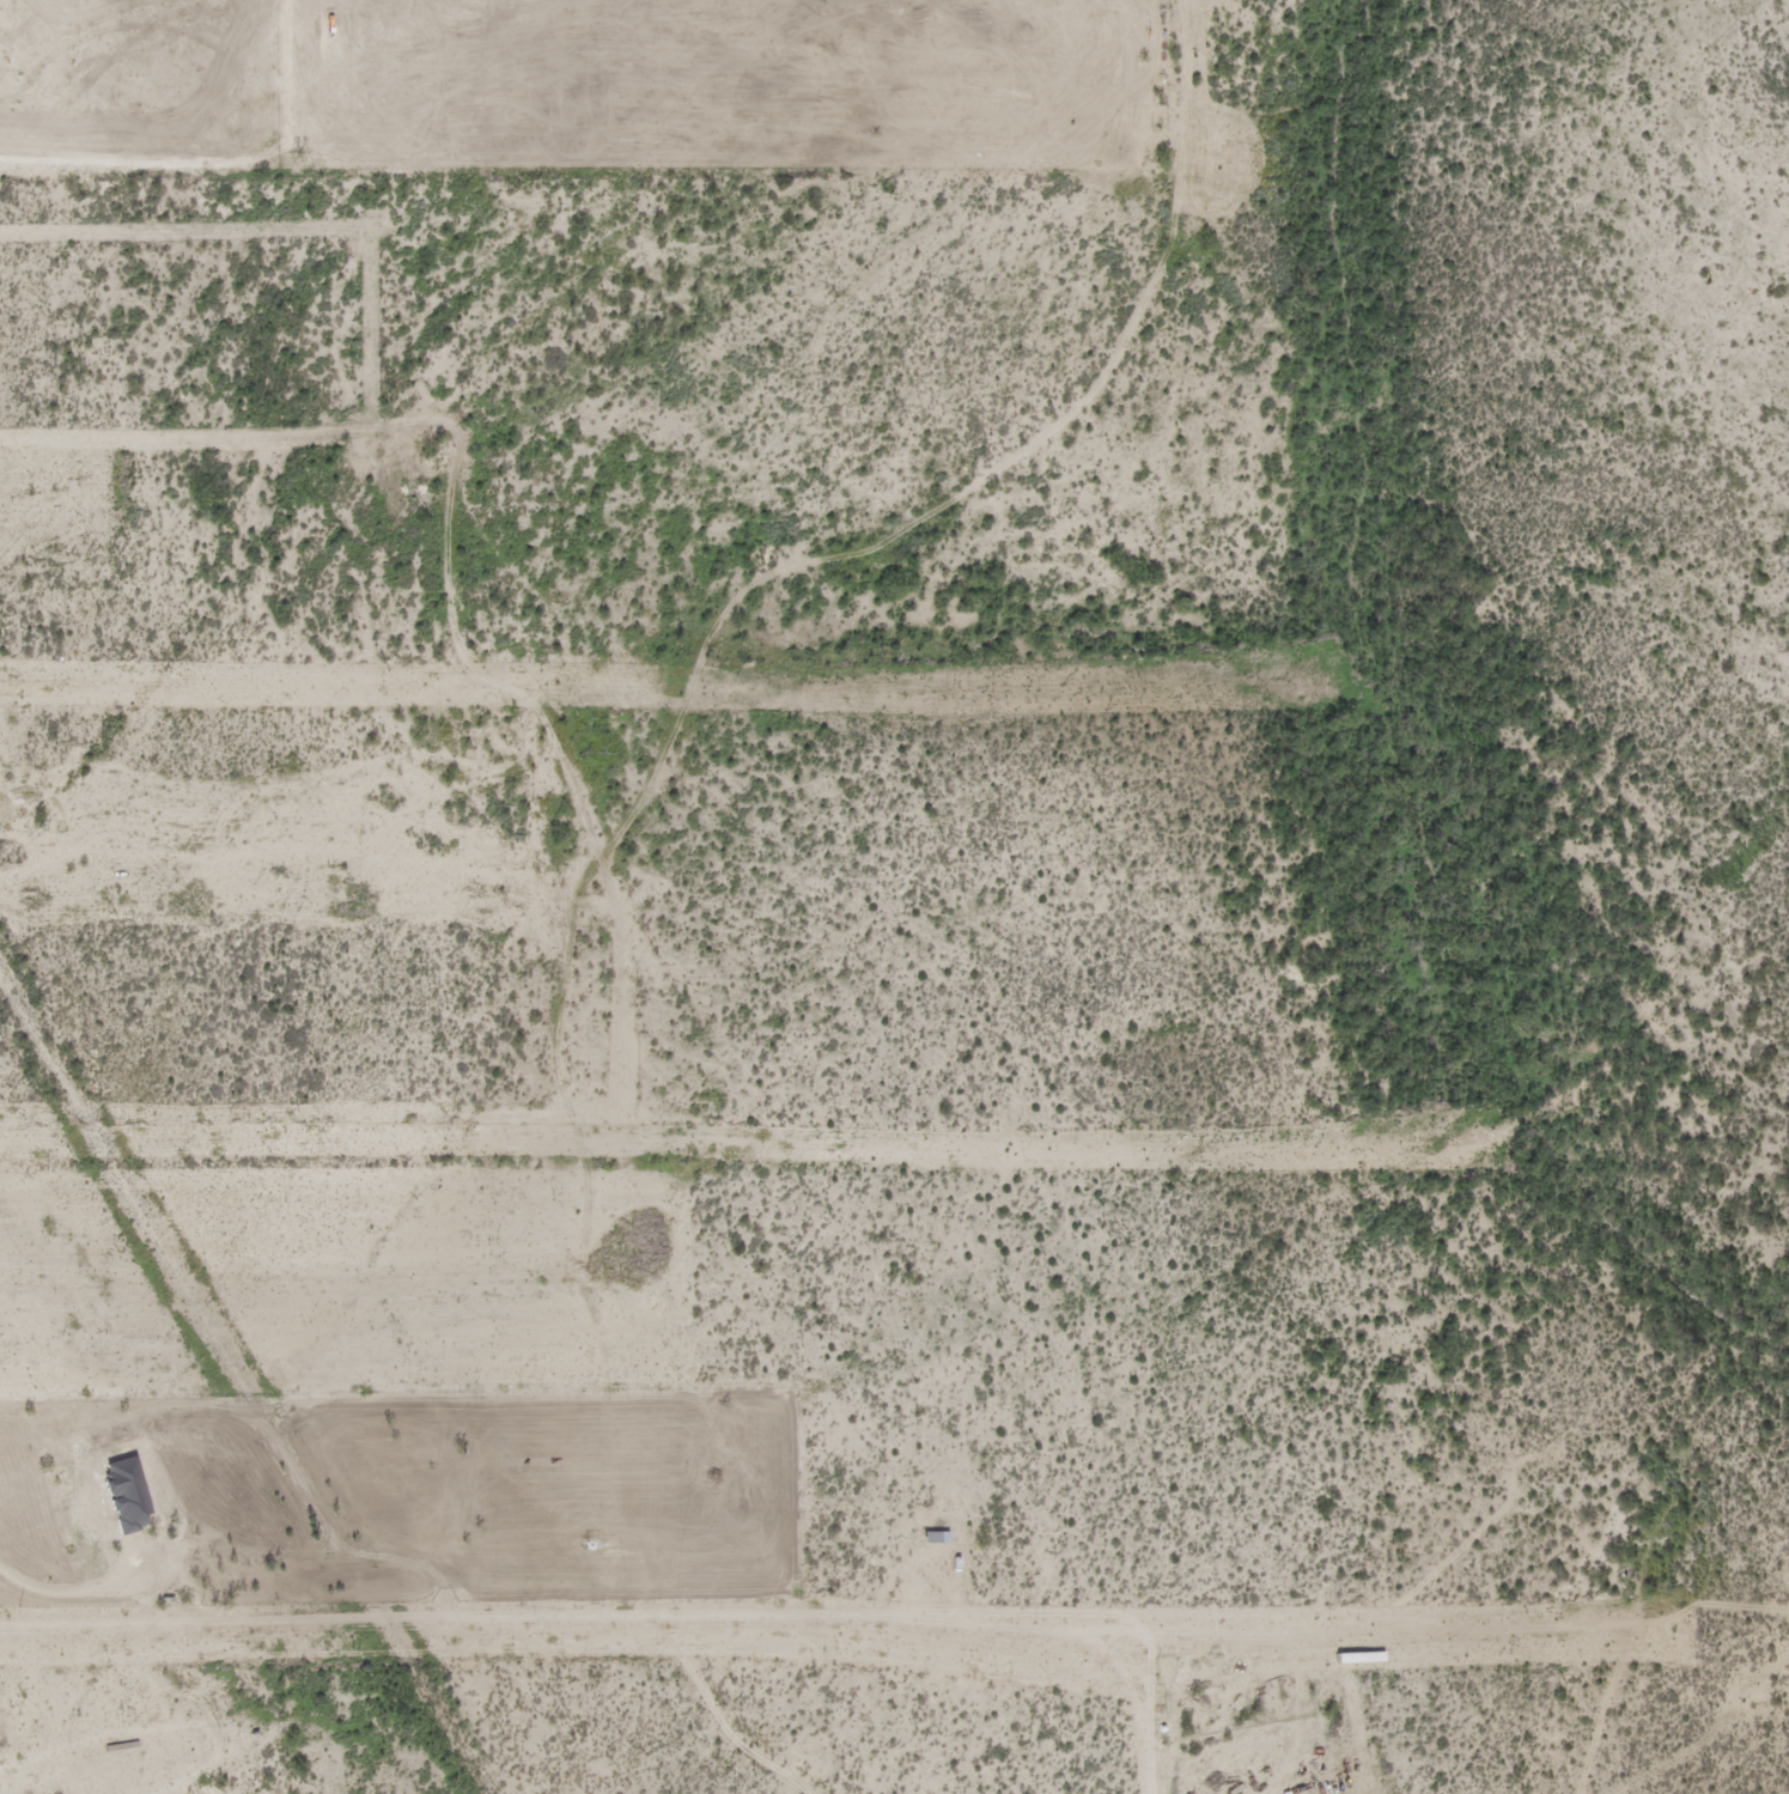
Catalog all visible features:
road: (225, 513)
road: (637, 813)
road: (328, 1459)

